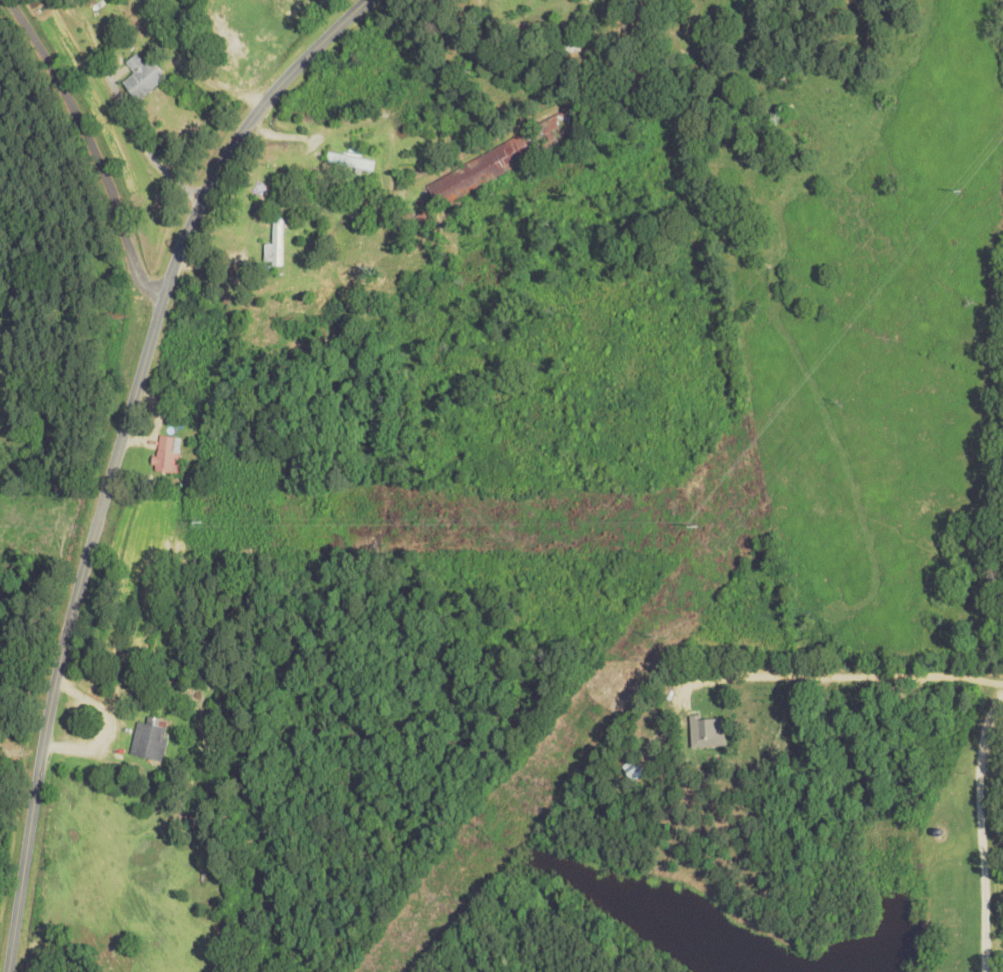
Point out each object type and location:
building: (571, 52)
building: (144, 78)
road: (286, 126)
road: (92, 145)
building: (503, 158)
building: (351, 162)
building: (275, 246)
building: (113, 324)
road: (118, 454)
building: (169, 455)
building: (150, 739)
road: (981, 832)

